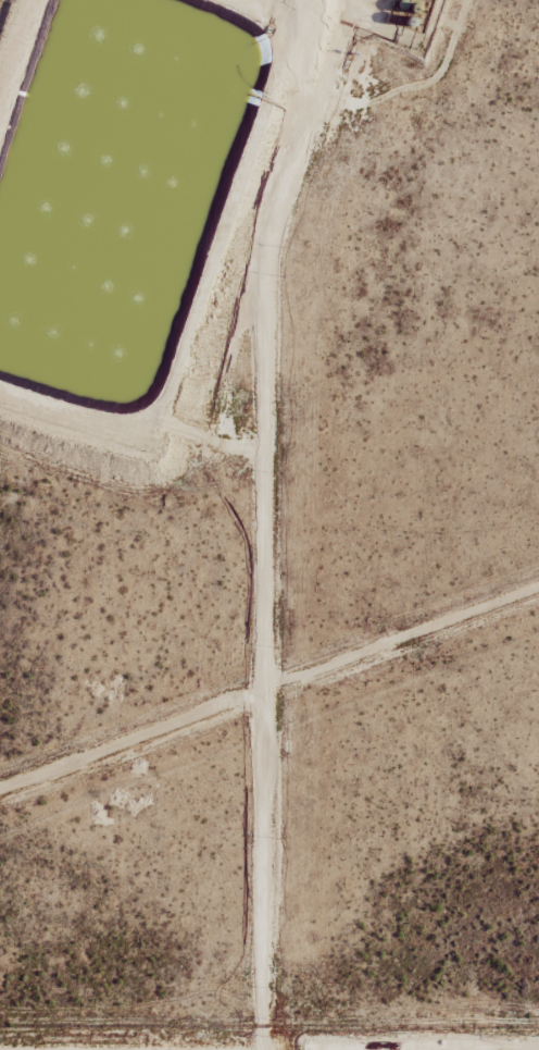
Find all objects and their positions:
road: (266, 520)

